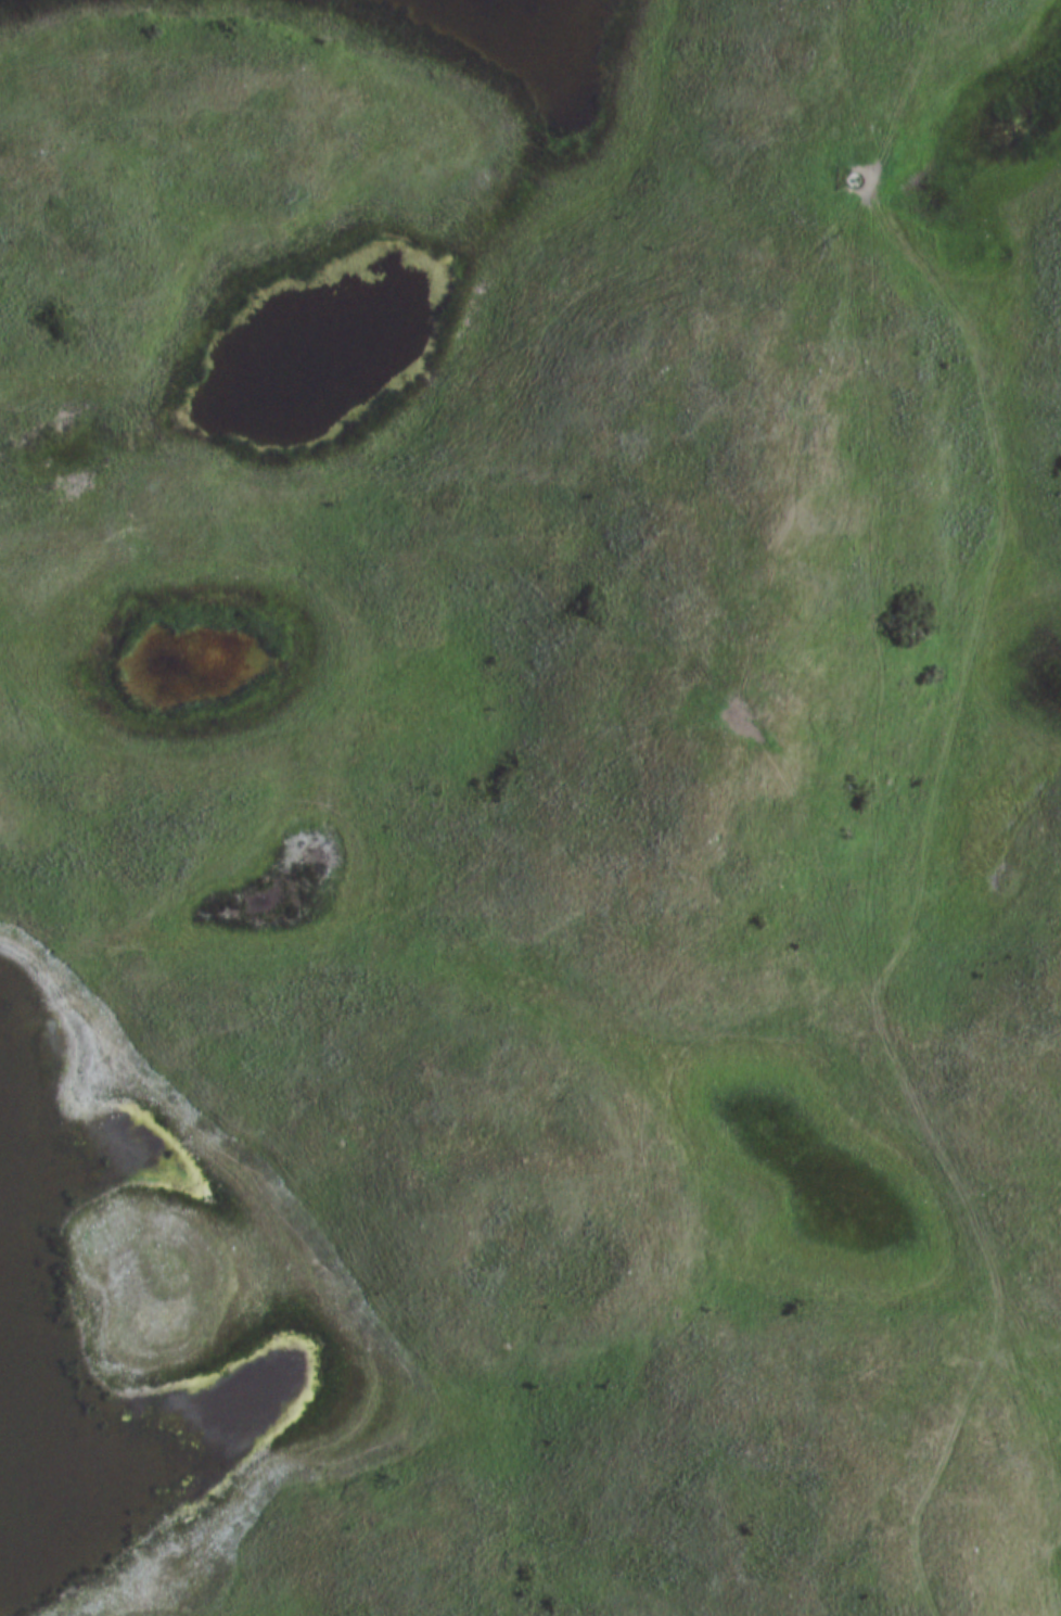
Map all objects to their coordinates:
road: (813, 277)
road: (920, 902)

